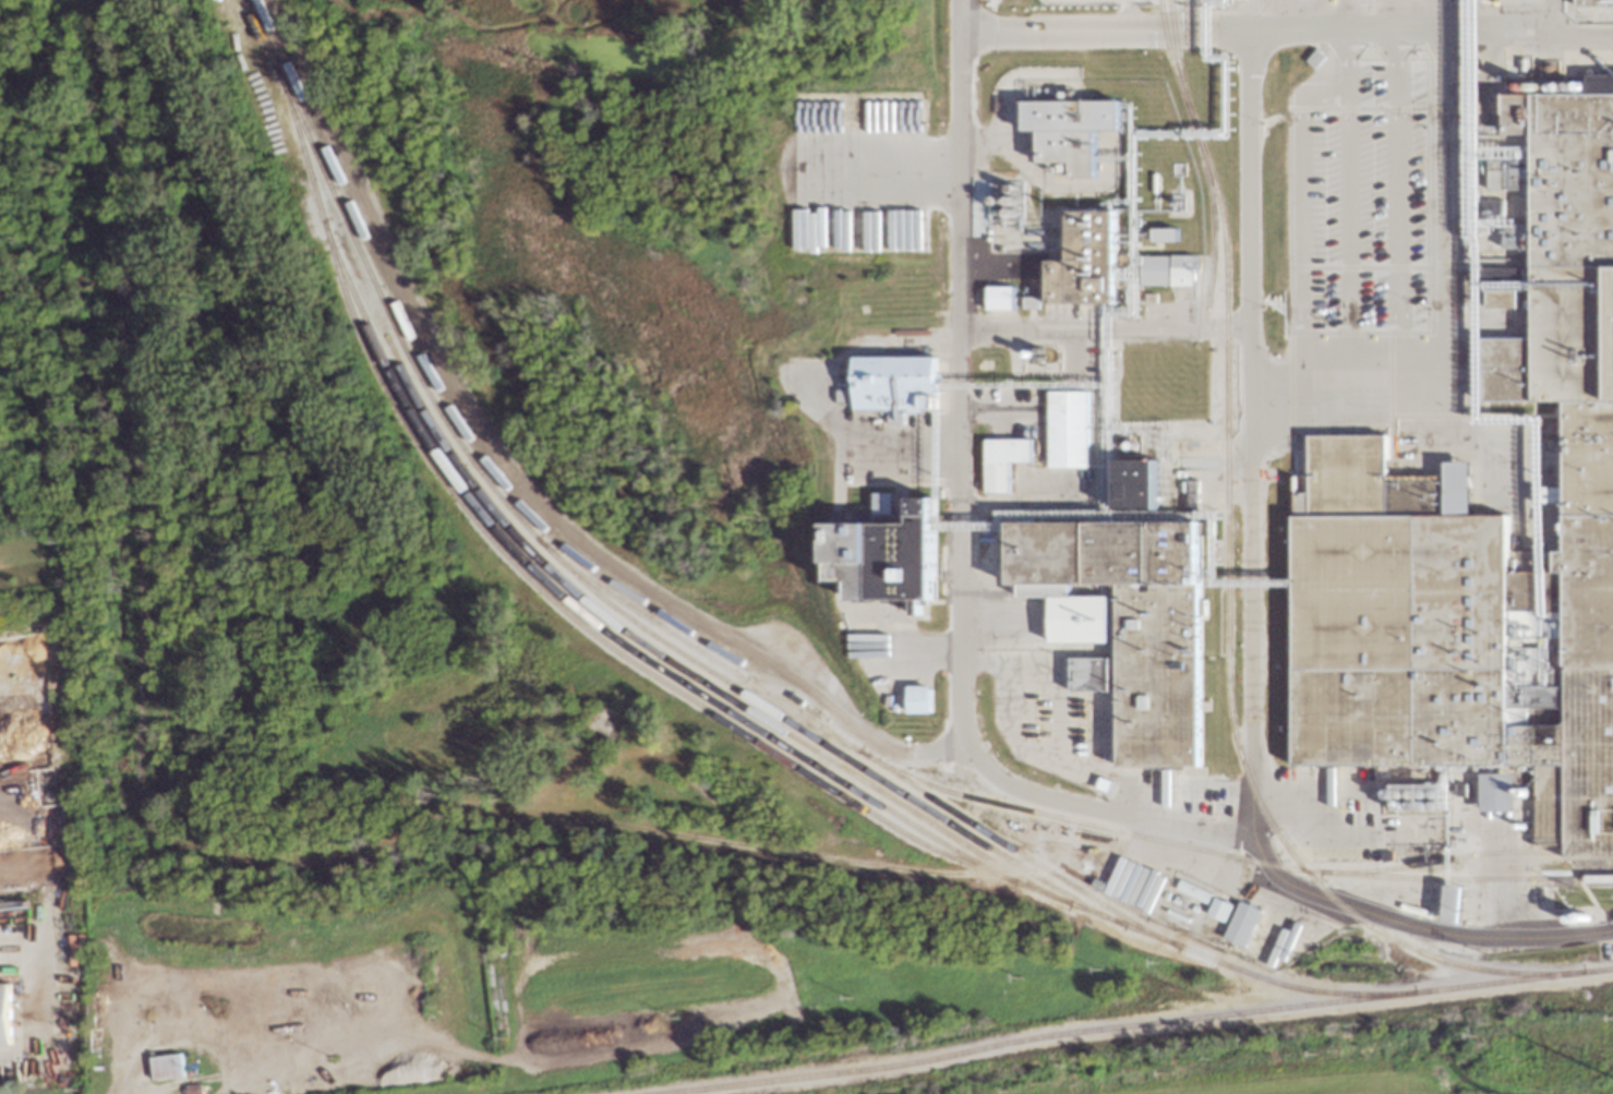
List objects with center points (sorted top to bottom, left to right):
road: (1297, 15)
road: (1340, 15)
road: (1376, 15)
road: (984, 25)
road: (1281, 31)
railway: (1170, 61)
railway: (287, 105)
road: (1131, 113)
building: (1072, 132)
road: (1112, 158)
road: (874, 169)
road: (1343, 191)
road: (1388, 191)
railway: (1211, 217)
building: (1164, 235)
building: (1108, 264)
road: (1550, 285)
road: (1133, 289)
building: (999, 298)
road: (1020, 321)
road: (951, 326)
road: (1368, 352)
road: (1488, 373)
road: (1293, 375)
road: (1444, 375)
road: (786, 380)
building: (898, 385)
road: (1026, 388)
road: (1440, 399)
road: (995, 410)
road: (1245, 421)
building: (1067, 429)
road: (923, 456)
building: (1002, 461)
road: (507, 483)
road: (1193, 514)
building: (1482, 543)
building: (899, 553)
railway: (592, 584)
road: (1255, 584)
road: (833, 587)
railway: (1225, 596)
railway: (593, 622)
building: (1132, 627)
road: (1008, 653)
railway: (681, 668)
building: (917, 698)
road: (1060, 710)
railway: (727, 723)
road: (1107, 740)
railway: (821, 742)
road: (1080, 772)
road: (1008, 782)
building: (1461, 790)
building: (1497, 792)
building: (1424, 800)
railway: (1007, 805)
road: (1155, 825)
road: (1331, 835)
railway: (1394, 867)
railway: (1380, 876)
building: (1452, 904)
building: (1219, 909)
road: (1371, 914)
building: (1242, 924)
building: (4, 1013)
railway: (1136, 1025)
road: (134, 1045)
building: (167, 1066)
crop: (1296, 1072)

